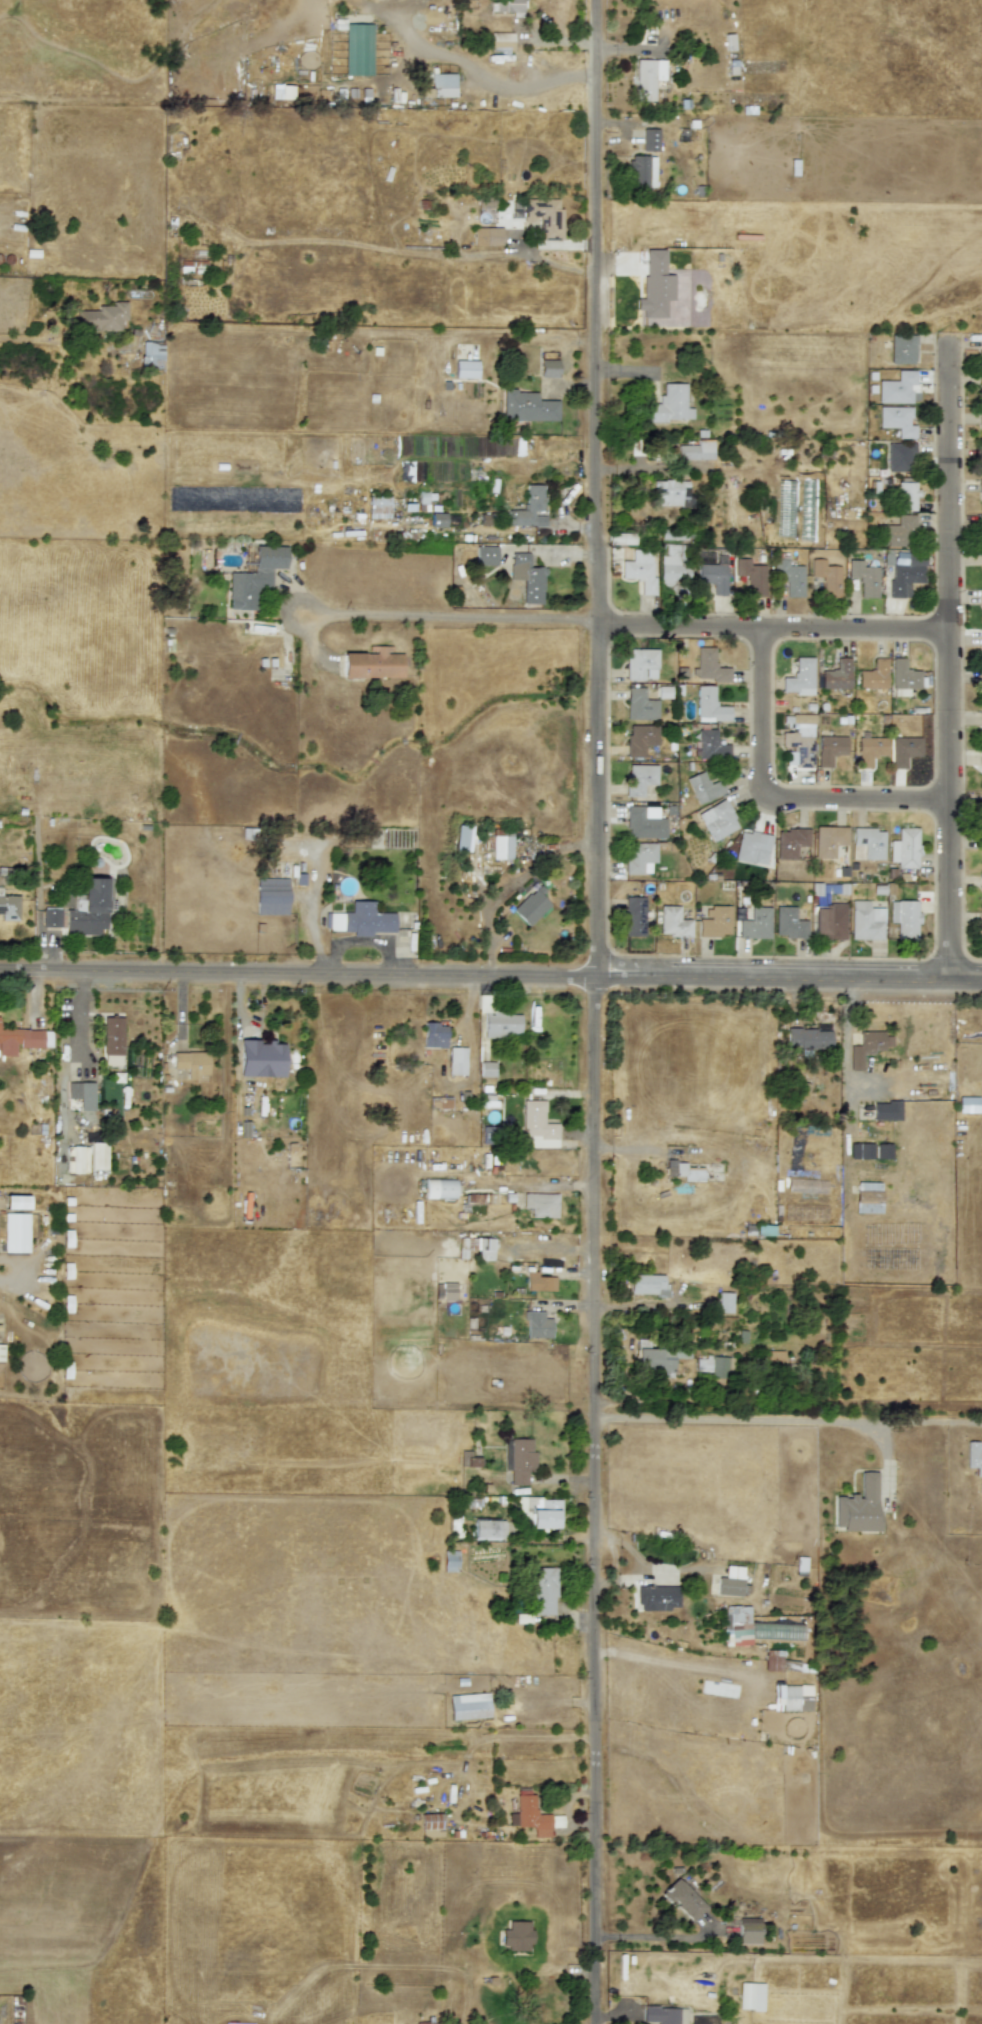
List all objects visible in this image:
building: (507, 6)
building: (500, 41)
building: (358, 49)
building: (648, 78)
building: (442, 85)
building: (650, 140)
building: (641, 171)
building: (516, 209)
building: (544, 216)
building: (487, 236)
building: (655, 284)
building: (103, 317)
building: (903, 349)
building: (152, 355)
building: (549, 368)
building: (465, 369)
building: (980, 387)
building: (899, 388)
building: (669, 405)
building: (527, 406)
building: (897, 420)
building: (980, 425)
building: (696, 451)
building: (899, 456)
building: (981, 459)
building: (980, 486)
building: (672, 493)
building: (906, 495)
building: (379, 507)
building: (529, 508)
building: (437, 519)
building: (900, 531)
building: (981, 536)
building: (486, 555)
building: (674, 568)
building: (640, 569)
building: (714, 575)
building: (790, 576)
building: (254, 577)
building: (827, 577)
building: (527, 578)
building: (750, 578)
building: (864, 578)
road: (461, 618)
road: (773, 630)
building: (981, 643)
building: (373, 663)
road: (948, 663)
building: (641, 664)
building: (708, 666)
building: (837, 675)
building: (873, 675)
building: (799, 678)
building: (903, 678)
building: (639, 705)
building: (710, 706)
building: (640, 739)
building: (799, 741)
building: (711, 745)
building: (830, 749)
building: (870, 750)
building: (904, 750)
building: (981, 759)
building: (639, 778)
building: (703, 787)
road: (776, 795)
building: (980, 801)
building: (717, 819)
building: (644, 822)
building: (462, 838)
building: (828, 840)
building: (790, 842)
building: (867, 843)
building: (502, 846)
building: (752, 848)
building: (905, 848)
building: (639, 857)
building: (981, 881)
building: (272, 896)
building: (9, 907)
building: (531, 907)
building: (88, 909)
building: (634, 916)
building: (51, 918)
building: (904, 918)
building: (361, 920)
building: (829, 921)
building: (865, 921)
building: (673, 922)
building: (715, 922)
building: (788, 923)
building: (981, 923)
building: (755, 924)
road: (360, 941)
road: (152, 975)
road: (643, 981)
road: (181, 1007)
road: (596, 1011)
road: (79, 1016)
building: (500, 1025)
building: (112, 1035)
building: (434, 1035)
building: (808, 1038)
building: (23, 1040)
building: (867, 1047)
building: (261, 1059)
building: (112, 1060)
building: (456, 1061)
building: (191, 1063)
building: (487, 1069)
road: (847, 1071)
building: (82, 1094)
building: (968, 1104)
building: (886, 1110)
building: (537, 1126)
building: (883, 1150)
building: (98, 1156)
building: (76, 1160)
building: (683, 1171)
building: (712, 1171)
building: (440, 1189)
building: (868, 1197)
building: (16, 1202)
building: (541, 1204)
building: (16, 1232)
building: (479, 1246)
building: (538, 1282)
building: (648, 1285)
building: (445, 1290)
building: (725, 1302)
building: (537, 1325)
building: (1, 1352)
building: (658, 1358)
building: (715, 1366)
road: (756, 1420)
road: (949, 1422)
building: (974, 1457)
building: (468, 1459)
building: (520, 1460)
building: (858, 1507)
building: (540, 1511)
building: (485, 1529)
building: (450, 1561)
building: (730, 1582)
building: (544, 1589)
building: (655, 1597)
building: (736, 1625)
building: (772, 1660)
building: (788, 1696)
building: (469, 1706)
building: (529, 1814)
building: (431, 1825)
building: (683, 1900)
building: (748, 1931)
building: (516, 1935)
road: (658, 1936)
building: (745, 1996)
building: (664, 2015)
building: (421, 2023)

